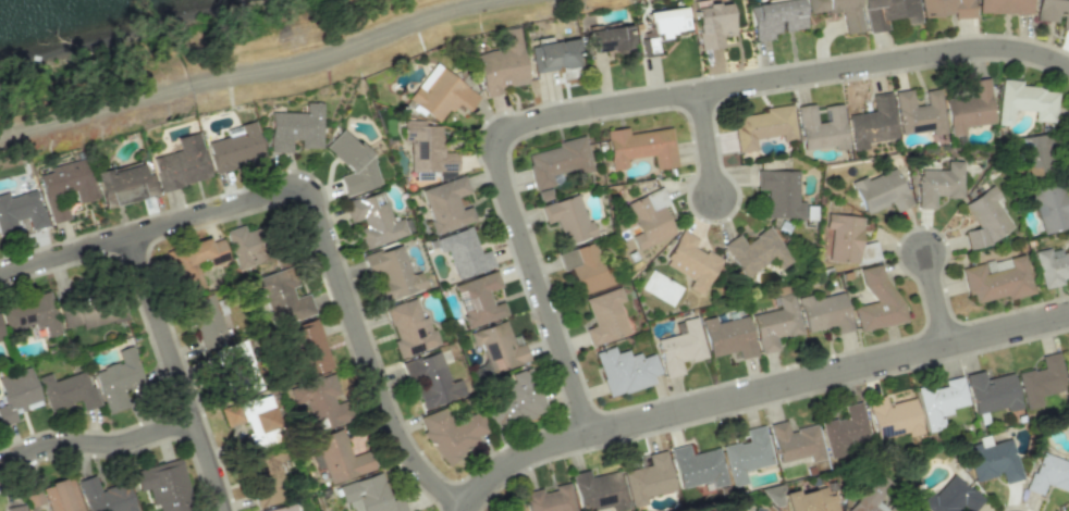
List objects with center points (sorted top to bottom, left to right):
building: (1003, 7)
building: (946, 8)
building: (1054, 12)
building: (888, 13)
building: (775, 17)
building: (851, 23)
building: (713, 24)
building: (663, 25)
building: (611, 38)
building: (554, 55)
building: (501, 65)
road: (244, 73)
building: (441, 94)
building: (1024, 101)
road: (623, 103)
building: (970, 108)
building: (919, 112)
building: (872, 123)
building: (762, 126)
building: (821, 127)
building: (296, 128)
road: (708, 144)
building: (640, 147)
building: (428, 148)
building: (235, 149)
building: (1041, 152)
building: (353, 163)
building: (182, 164)
building: (556, 164)
building: (937, 184)
building: (124, 185)
building: (65, 187)
building: (881, 191)
building: (781, 194)
building: (446, 204)
road: (315, 208)
building: (1050, 208)
building: (21, 210)
building: (373, 219)
building: (568, 219)
building: (649, 219)
building: (985, 219)
building: (847, 240)
building: (1068, 242)
building: (245, 247)
building: (757, 251)
building: (464, 252)
building: (193, 262)
building: (691, 262)
building: (1052, 266)
building: (586, 267)
building: (393, 274)
building: (997, 279)
building: (283, 296)
road: (938, 298)
building: (479, 299)
building: (876, 299)
building: (93, 311)
building: (824, 312)
building: (32, 314)
building: (605, 316)
building: (209, 324)
building: (776, 324)
building: (409, 328)
building: (728, 337)
building: (312, 346)
building: (497, 346)
building: (679, 348)
building: (244, 367)
building: (624, 370)
road: (179, 373)
building: (118, 379)
building: (431, 381)
building: (1041, 381)
building: (67, 390)
road: (757, 392)
building: (991, 392)
building: (16, 395)
building: (514, 400)
building: (321, 401)
building: (939, 401)
building: (232, 414)
building: (893, 417)
building: (267, 420)
building: (843, 429)
building: (451, 433)
building: (794, 443)
road: (97, 445)
building: (746, 454)
building: (339, 457)
building: (993, 460)
building: (697, 466)
building: (1049, 474)
building: (648, 478)
building: (268, 479)
building: (164, 485)
building: (597, 490)
building: (60, 495)
building: (370, 495)
building: (870, 495)
building: (105, 496)
building: (951, 496)
building: (549, 499)
building: (802, 499)
building: (15, 508)
building: (284, 508)
building: (757, 510)
building: (1068, 510)

